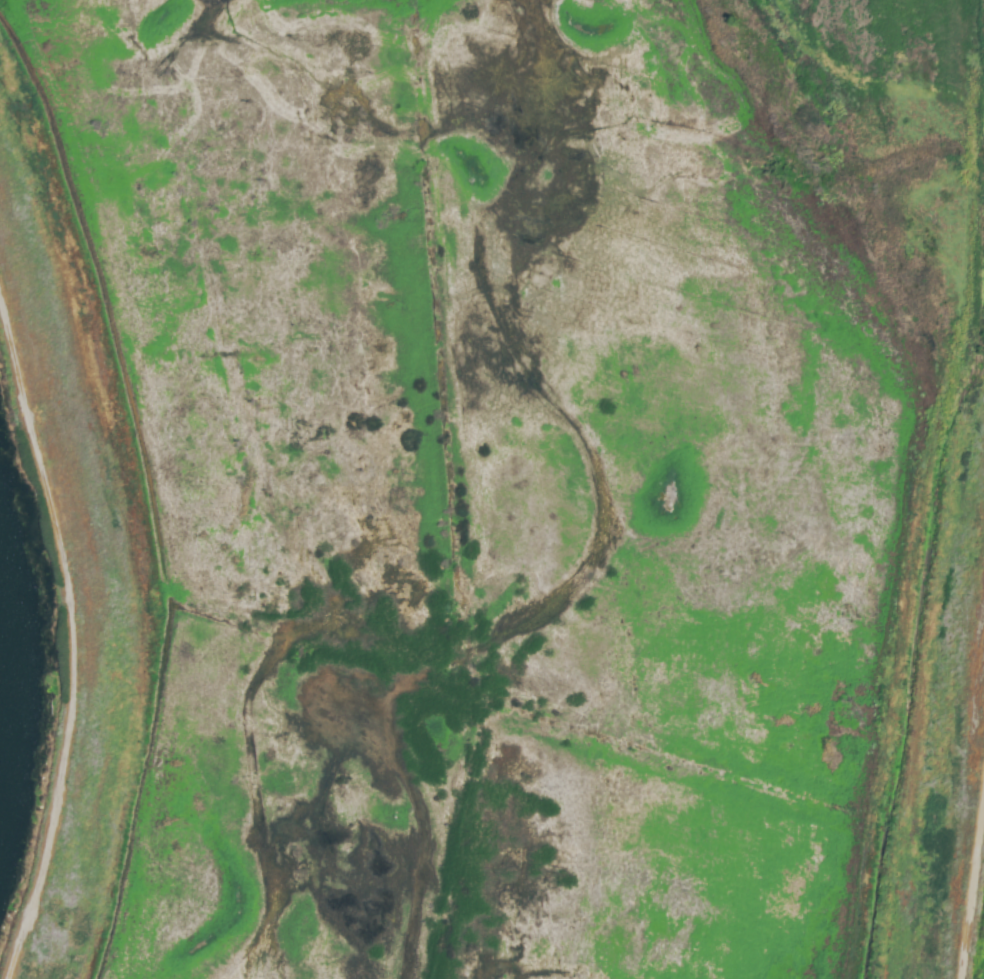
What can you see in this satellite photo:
crop: (504, 486)

